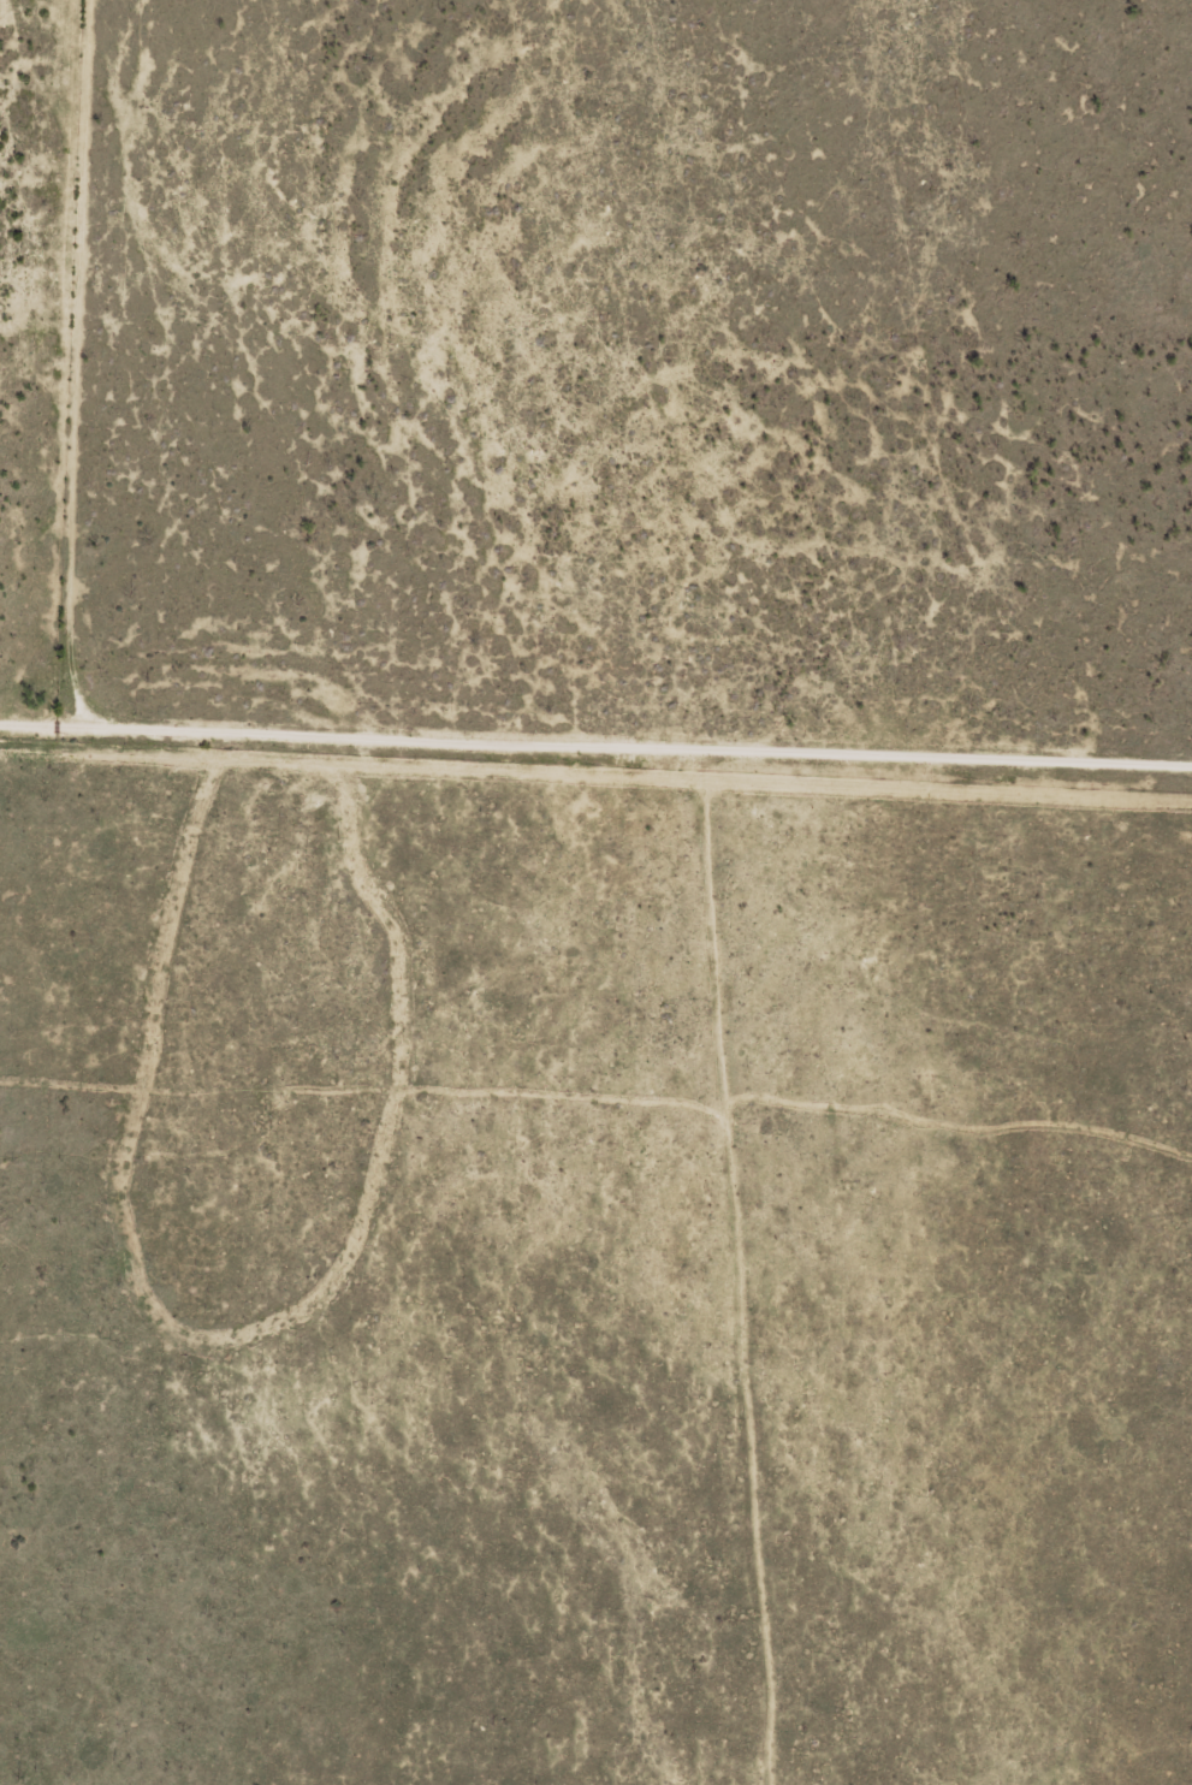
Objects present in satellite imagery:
road: (113, 339)
road: (558, 373)
road: (583, 785)

